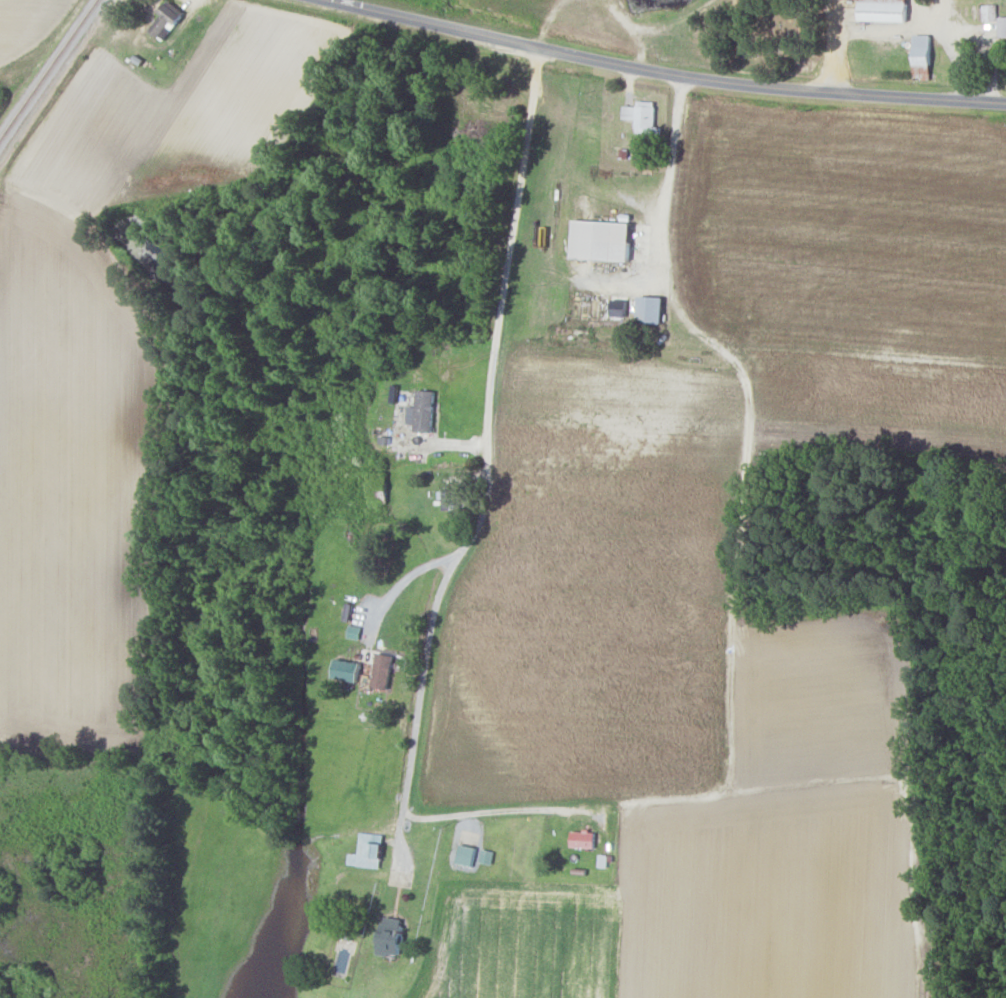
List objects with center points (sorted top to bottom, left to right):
building: (883, 10)
building: (165, 19)
road: (833, 48)
road: (956, 51)
building: (921, 56)
railway: (48, 68)
road: (652, 74)
road: (55, 78)
building: (642, 116)
building: (601, 239)
building: (617, 308)
building: (649, 309)
building: (421, 411)
road: (748, 419)
building: (450, 499)
road: (405, 582)
building: (345, 670)
building: (381, 670)
road: (415, 784)
building: (582, 839)
building: (366, 851)
building: (465, 855)
building: (486, 856)
building: (389, 936)

